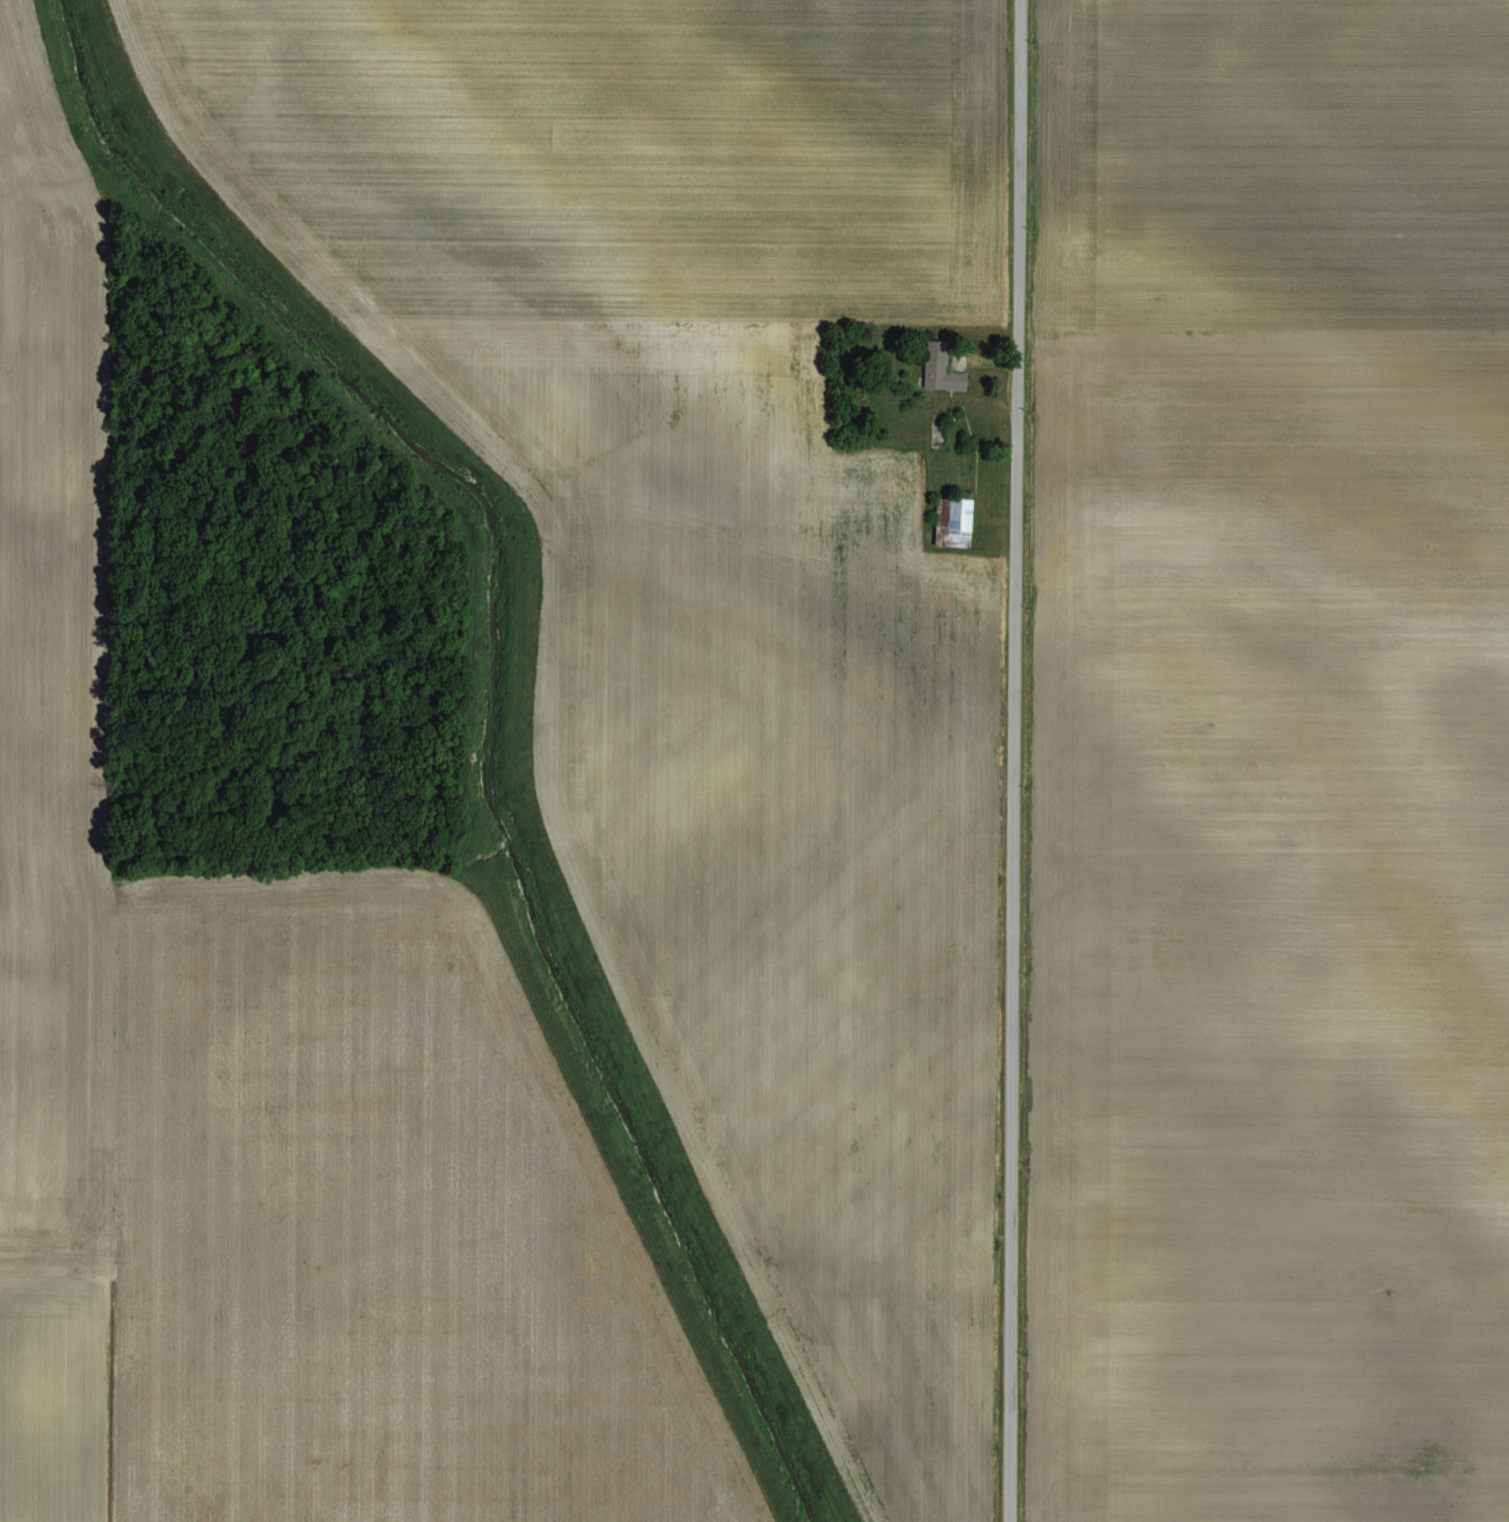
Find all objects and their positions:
building: (940, 365)
road: (1010, 761)

